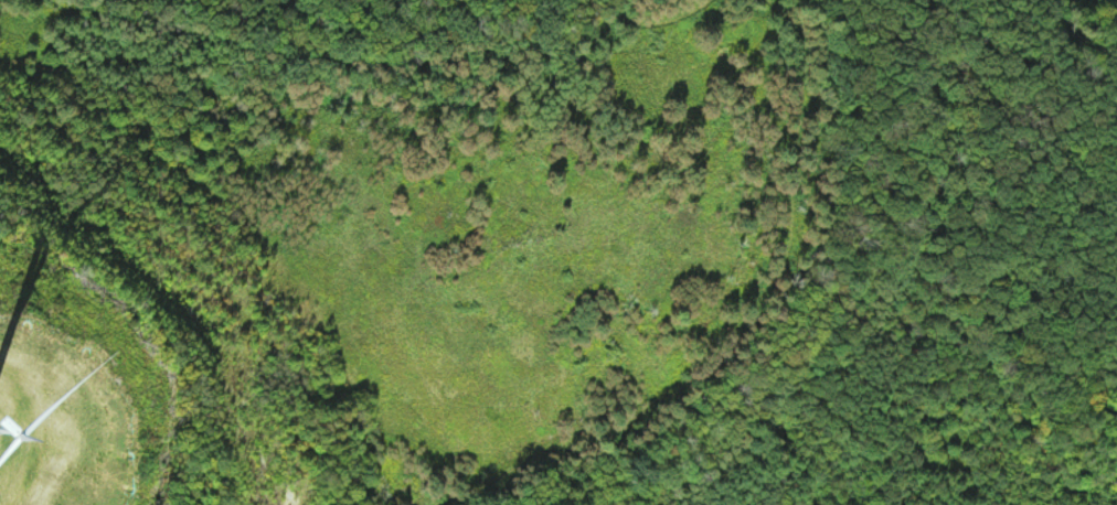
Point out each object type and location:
road: (765, 23)
road: (740, 47)
road: (977, 128)

